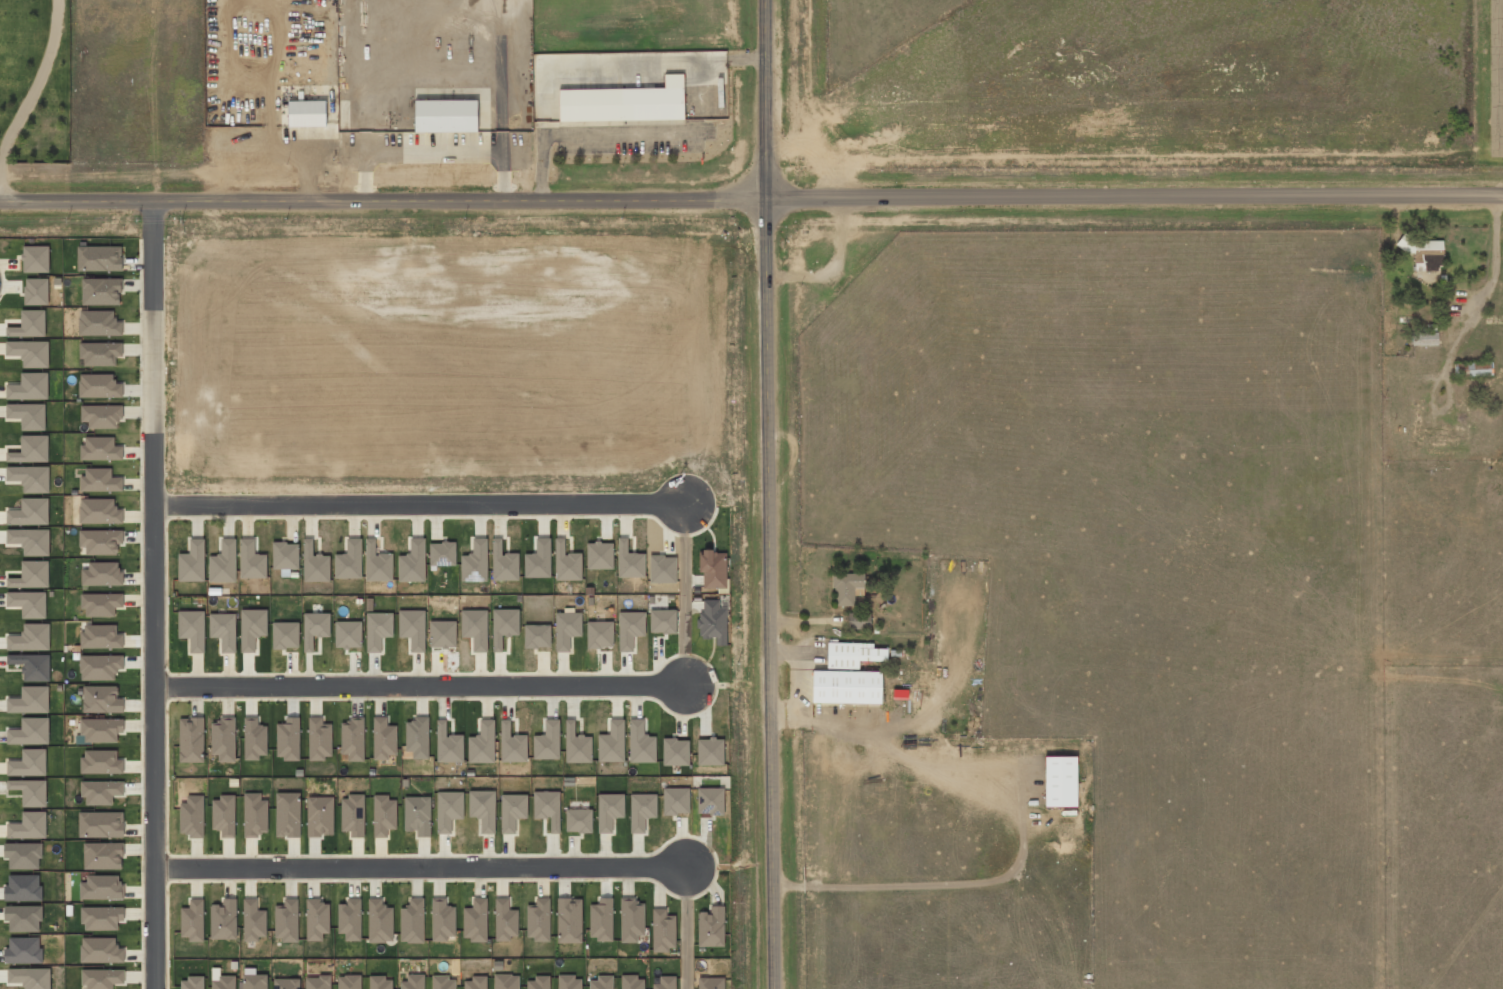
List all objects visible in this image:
building: (222, 19)
airport taxiway: (1498, 70)
airport: (1148, 84)
road: (767, 99)
building: (625, 102)
building: (307, 113)
building: (445, 115)
road: (751, 199)
building: (1424, 253)
building: (99, 258)
building: (35, 259)
building: (36, 291)
building: (101, 291)
building: (98, 323)
building: (29, 324)
building: (1424, 338)
building: (29, 352)
building: (100, 353)
building: (1472, 369)
building: (99, 386)
building: (28, 387)
building: (27, 415)
building: (101, 415)
building: (100, 448)
building: (30, 449)
building: (29, 478)
building: (100, 480)
road: (417, 502)
building: (99, 511)
building: (29, 512)
building: (30, 540)
building: (100, 541)
building: (442, 553)
building: (285, 555)
building: (599, 555)
building: (251, 560)
building: (349, 560)
building: (538, 560)
building: (475, 561)
building: (629, 561)
building: (192, 562)
building: (223, 562)
building: (413, 562)
building: (503, 562)
building: (377, 563)
building: (566, 563)
building: (314, 564)
building: (662, 569)
building: (713, 569)
building: (101, 573)
building: (31, 575)
building: (846, 587)
road: (683, 592)
road: (772, 593)
road: (151, 595)
building: (28, 603)
building: (101, 604)
building: (859, 620)
building: (662, 621)
building: (712, 621)
building: (504, 626)
building: (252, 628)
building: (412, 628)
building: (475, 628)
building: (192, 629)
building: (315, 629)
building: (378, 629)
building: (566, 629)
building: (629, 629)
building: (223, 630)
building: (347, 634)
building: (442, 634)
building: (599, 634)
building: (285, 635)
building: (100, 636)
building: (537, 636)
building: (30, 638)
building: (852, 654)
building: (32, 666)
building: (99, 667)
road: (418, 685)
building: (846, 686)
building: (101, 699)
building: (30, 700)
building: (100, 729)
building: (30, 732)
building: (417, 737)
building: (353, 738)
building: (383, 738)
building: (223, 739)
building: (254, 739)
building: (288, 739)
building: (319, 739)
building: (191, 740)
building: (547, 741)
building: (482, 743)
building: (611, 743)
building: (640, 743)
building: (448, 744)
building: (512, 744)
building: (576, 745)
building: (710, 751)
building: (675, 752)
building: (100, 762)
building: (28, 763)
building: (1060, 781)
road: (1139, 789)
building: (29, 791)
building: (101, 791)
building: (675, 801)
building: (710, 801)
building: (547, 808)
building: (483, 809)
building: (448, 810)
building: (512, 811)
building: (609, 811)
building: (641, 811)
building: (255, 814)
building: (287, 814)
building: (223, 815)
building: (352, 815)
building: (383, 815)
building: (417, 815)
building: (191, 816)
building: (319, 816)
building: (578, 820)
building: (100, 824)
building: (28, 826)
building: (102, 855)
road: (419, 866)
building: (22, 887)
building: (101, 887)
building: (23, 916)
building: (101, 918)
building: (223, 919)
building: (316, 919)
building: (349, 919)
building: (442, 919)
building: (192, 920)
building: (286, 920)
building: (475, 920)
building: (505, 920)
building: (538, 920)
building: (568, 920)
building: (601, 920)
building: (631, 920)
building: (253, 921)
building: (379, 921)
building: (412, 921)
road: (687, 926)
building: (711, 927)
building: (663, 930)
building: (23, 950)
building: (100, 950)
building: (30, 977)
building: (102, 978)
building: (254, 981)
building: (506, 981)
building: (191, 982)
building: (223, 982)
building: (318, 982)
building: (348, 982)
building: (380, 982)
building: (413, 982)
building: (443, 982)
building: (539, 982)
building: (569, 982)
building: (601, 982)
building: (632, 982)
building: (285, 983)
building: (475, 983)
building: (665, 983)
building: (711, 983)

